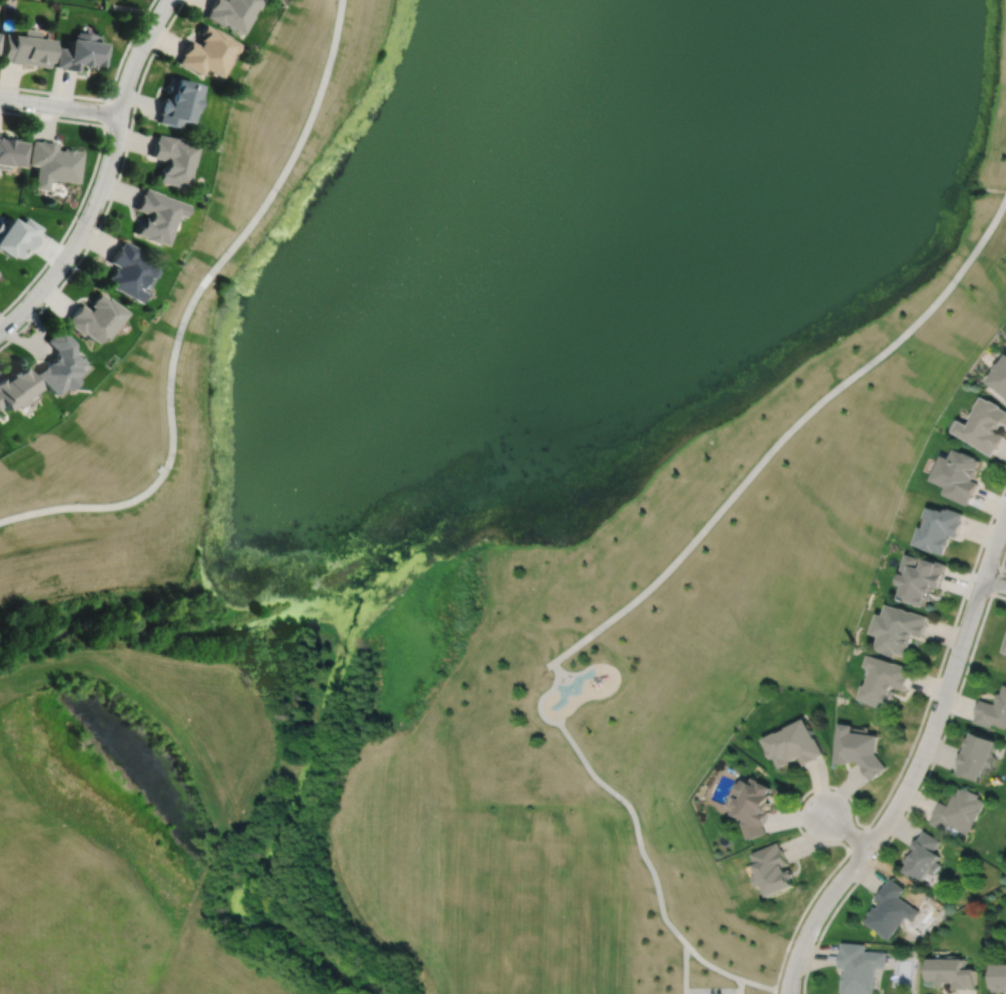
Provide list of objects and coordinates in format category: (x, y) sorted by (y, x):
building: (231, 13)
building: (24, 49)
building: (207, 53)
building: (78, 54)
road: (110, 100)
building: (177, 104)
road: (60, 106)
road: (108, 113)
building: (9, 154)
building: (172, 157)
building: (51, 163)
road: (106, 177)
road: (91, 180)
road: (115, 186)
building: (156, 213)
building: (17, 234)
building: (127, 270)
building: (0, 277)
road: (189, 306)
building: (95, 316)
building: (58, 362)
building: (1000, 375)
building: (14, 387)
building: (985, 424)
road: (785, 435)
building: (960, 474)
park: (485, 491)
building: (941, 528)
road: (1001, 560)
building: (923, 578)
road: (993, 579)
road: (994, 579)
building: (900, 629)
building: (1005, 650)
building: (886, 681)
building: (993, 710)
building: (795, 744)
road: (910, 745)
building: (859, 750)
building: (975, 755)
road: (916, 763)
road: (614, 792)
road: (915, 793)
road: (800, 796)
building: (755, 804)
building: (957, 809)
road: (845, 829)
building: (924, 853)
building: (775, 867)
building: (892, 907)
park: (536, 910)
road: (711, 965)
building: (861, 966)
road: (685, 969)
building: (952, 970)
building: (999, 975)
road: (757, 983)
park: (538, 985)
road: (740, 986)
parking lot: (711, 990)
road: (774, 991)

